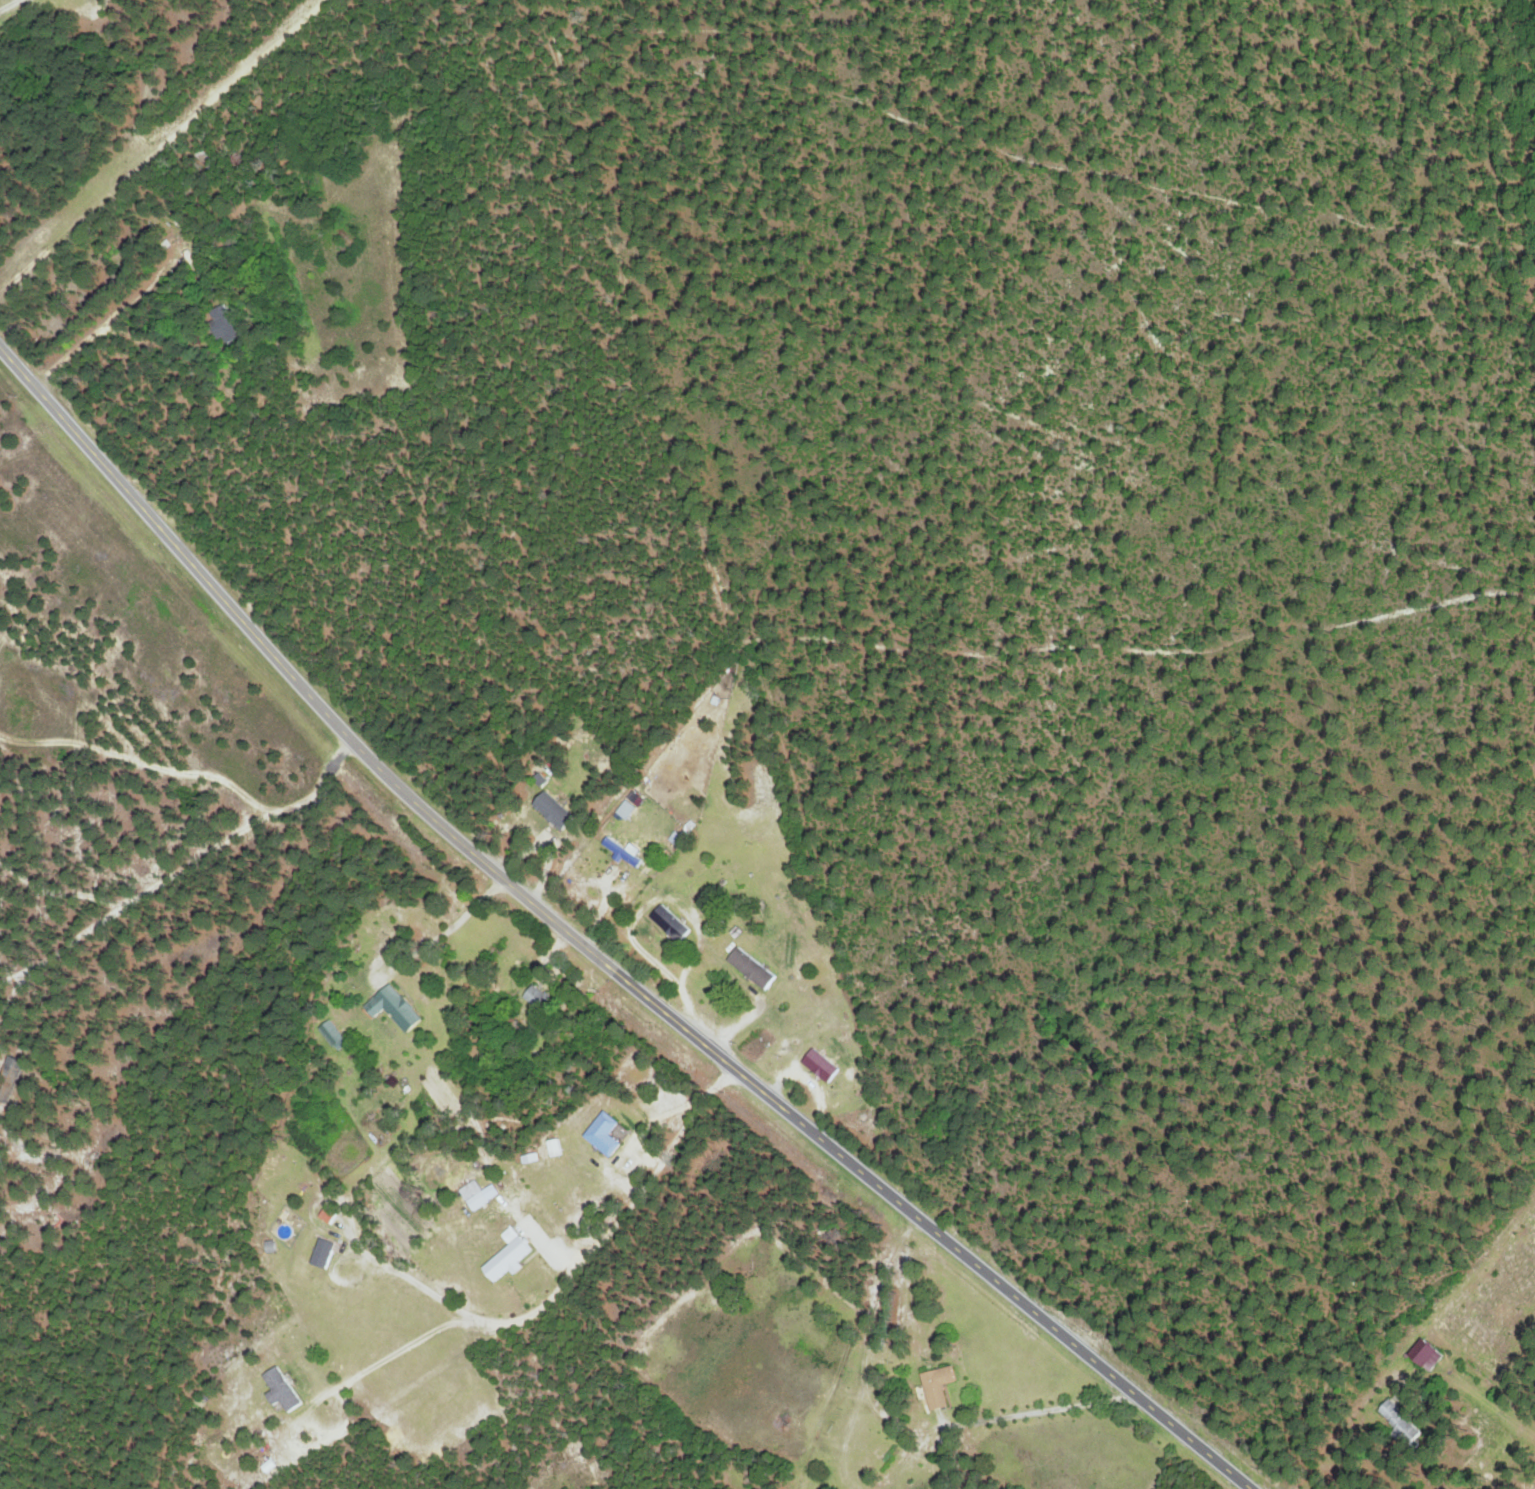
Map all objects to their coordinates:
building: (226, 323)
road: (335, 749)
building: (628, 807)
building: (558, 808)
road: (423, 812)
road: (194, 844)
building: (626, 850)
building: (672, 921)
building: (753, 966)
building: (539, 998)
building: (397, 1006)
building: (333, 1031)
building: (823, 1063)
building: (606, 1132)
building: (556, 1146)
building: (480, 1192)
building: (330, 1213)
building: (511, 1233)
road: (602, 1235)
building: (326, 1251)
building: (510, 1257)
road: (1084, 1350)
building: (1431, 1352)
building: (941, 1384)
building: (284, 1389)
building: (1403, 1420)

